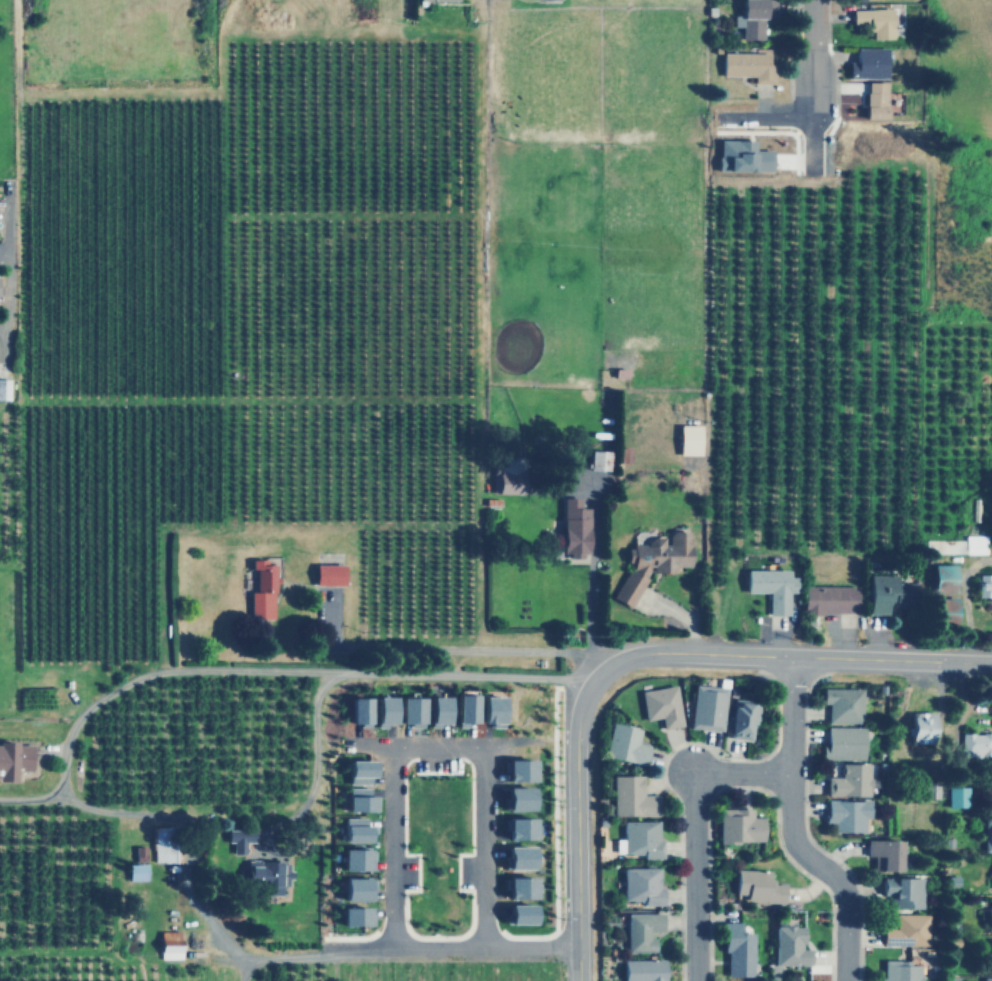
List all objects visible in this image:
building: (437, 0)
building: (750, 20)
building: (873, 22)
road: (815, 49)
building: (867, 63)
building: (747, 65)
building: (873, 100)
building: (741, 156)
road: (17, 165)
road: (3, 254)
building: (4, 388)
building: (688, 439)
building: (598, 460)
building: (507, 476)
building: (573, 528)
building: (974, 543)
building: (652, 562)
building: (328, 573)
building: (942, 578)
building: (984, 585)
building: (262, 586)
building: (771, 588)
building: (887, 594)
building: (829, 599)
road: (966, 603)
building: (943, 610)
road: (788, 656)
road: (281, 669)
road: (774, 671)
road: (891, 675)
building: (842, 704)
building: (661, 705)
building: (706, 707)
building: (463, 708)
building: (358, 710)
building: (436, 710)
building: (490, 710)
building: (382, 711)
building: (409, 711)
building: (740, 719)
building: (920, 726)
building: (625, 743)
building: (843, 743)
building: (976, 744)
road: (440, 752)
building: (19, 756)
parking lot: (438, 763)
building: (518, 770)
building: (357, 771)
road: (663, 771)
road: (767, 773)
building: (849, 780)
road: (754, 786)
building: (632, 796)
building: (956, 796)
building: (517, 798)
building: (357, 799)
building: (991, 799)
road: (22, 800)
building: (846, 814)
building: (738, 825)
road: (577, 827)
building: (519, 828)
building: (353, 829)
road: (695, 829)
road: (791, 829)
road: (555, 834)
building: (987, 834)
road: (810, 837)
building: (238, 838)
building: (641, 838)
building: (161, 844)
park: (439, 850)
building: (884, 852)
building: (139, 853)
building: (517, 856)
building: (355, 858)
building: (136, 871)
parking lot: (468, 871)
parking lot: (411, 872)
building: (266, 875)
building: (641, 885)
building: (757, 886)
building: (519, 887)
building: (354, 889)
building: (903, 891)
building: (518, 913)
building: (353, 916)
building: (989, 917)
building: (642, 931)
building: (906, 931)
road: (351, 938)
road: (440, 938)
building: (168, 944)
building: (789, 946)
building: (737, 949)
road: (402, 955)
building: (990, 955)
building: (641, 970)
building: (901, 971)
building: (987, 979)

